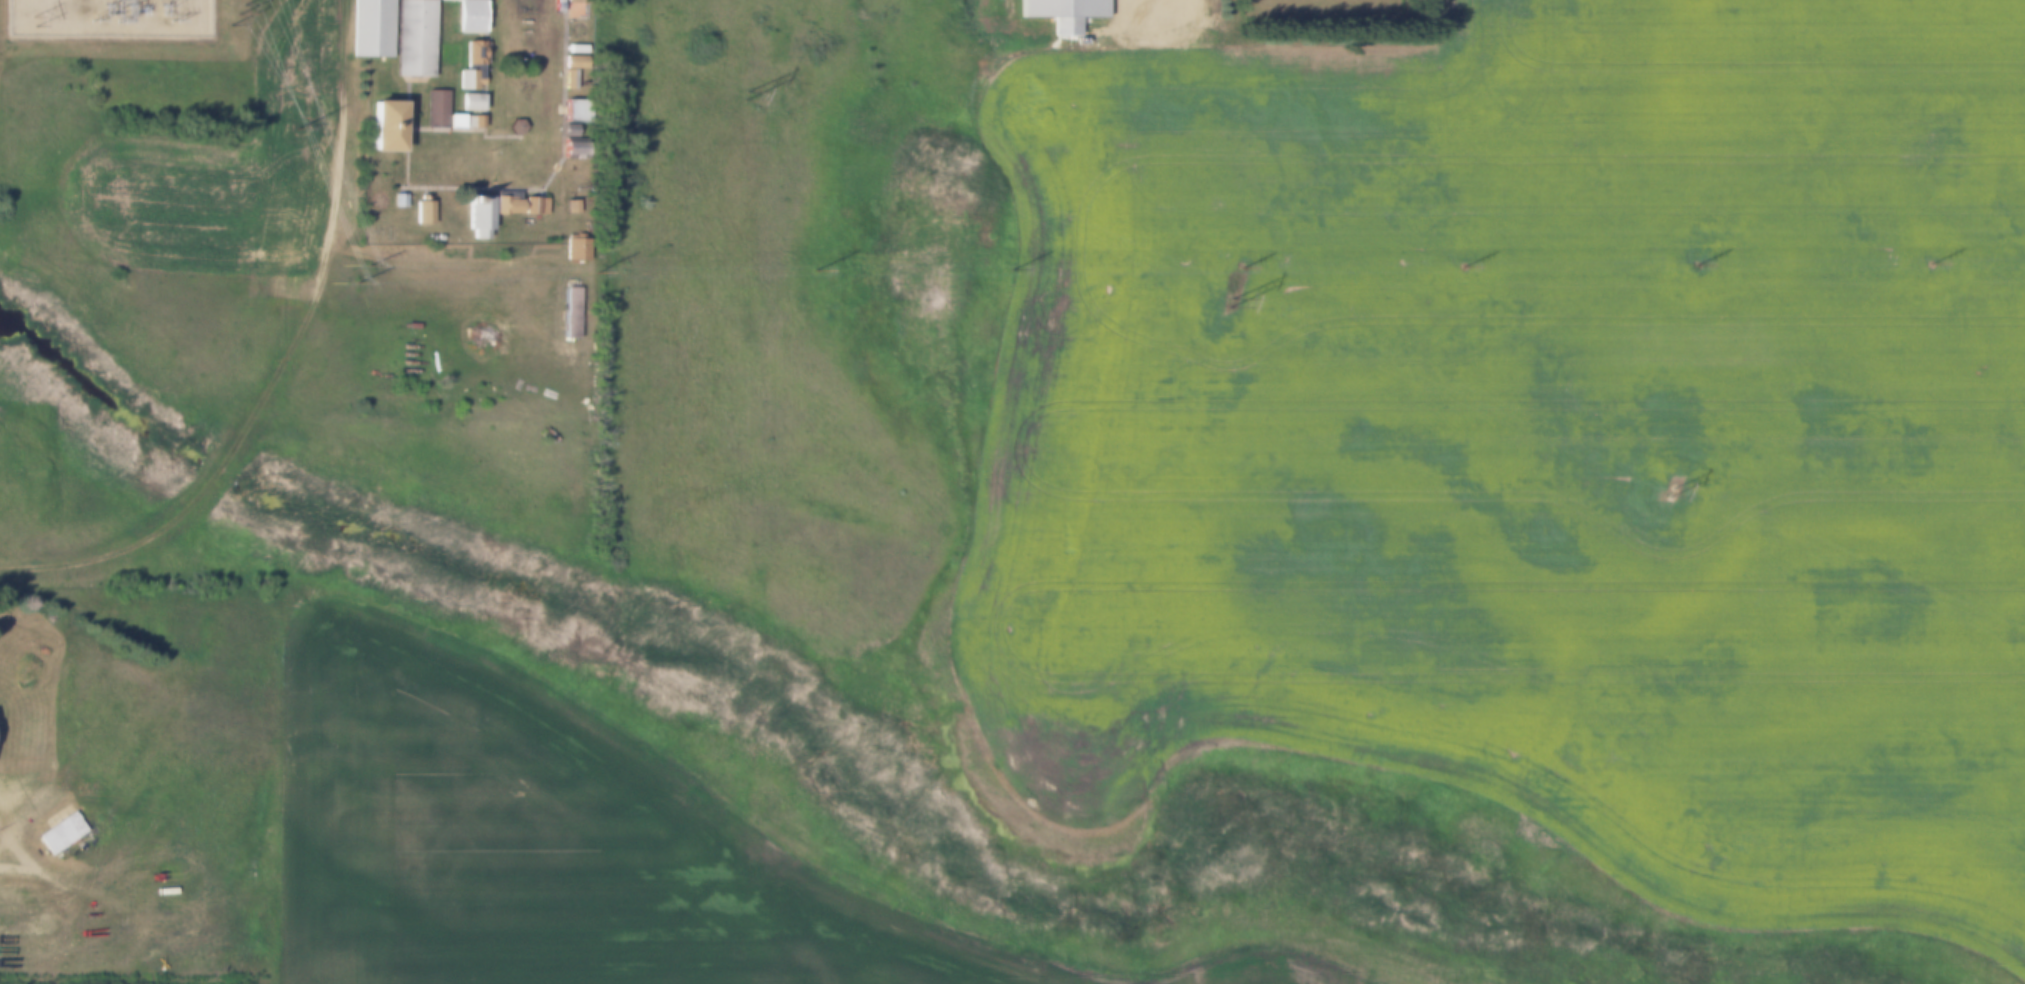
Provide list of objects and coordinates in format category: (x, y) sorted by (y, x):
building: (553, 1)
building: (572, 2)
building: (553, 8)
building: (1065, 14)
power substation: (110, 19)
building: (370, 28)
building: (524, 40)
building: (413, 41)
building: (574, 49)
building: (473, 52)
building: (571, 61)
building: (465, 79)
building: (567, 79)
building: (470, 101)
building: (434, 109)
building: (571, 109)
building: (453, 121)
building: (471, 121)
building: (381, 126)
building: (514, 127)
building: (567, 131)
building: (570, 148)
building: (396, 200)
building: (503, 205)
building: (532, 206)
building: (569, 206)
building: (420, 211)
building: (475, 216)
building: (427, 236)
building: (435, 236)
building: (574, 248)
building: (567, 313)
road: (280, 363)
building: (59, 827)
road: (6, 830)

